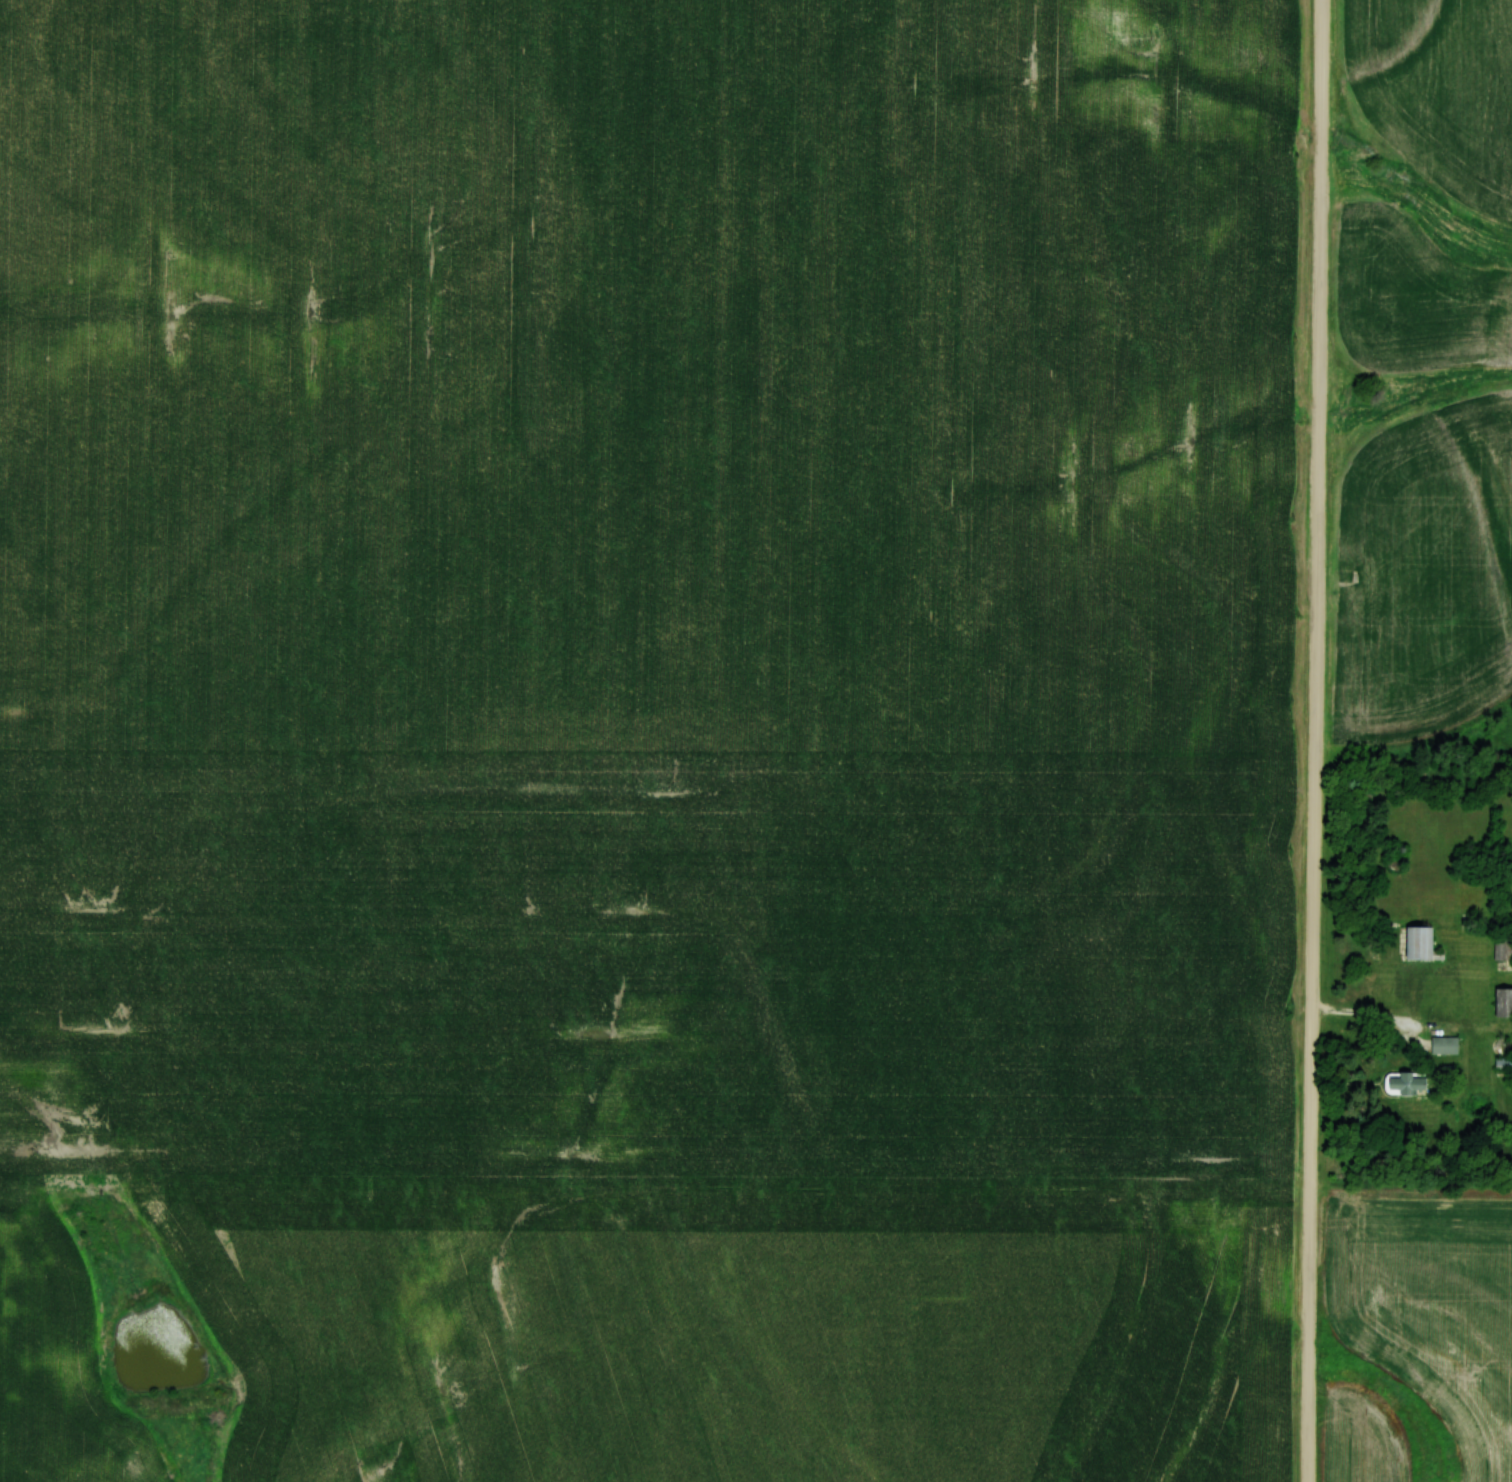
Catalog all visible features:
road: (1319, 740)
building: (1417, 943)
building: (1500, 948)
building: (1503, 1002)
building: (1443, 1045)
building: (1504, 1062)
building: (1405, 1082)

